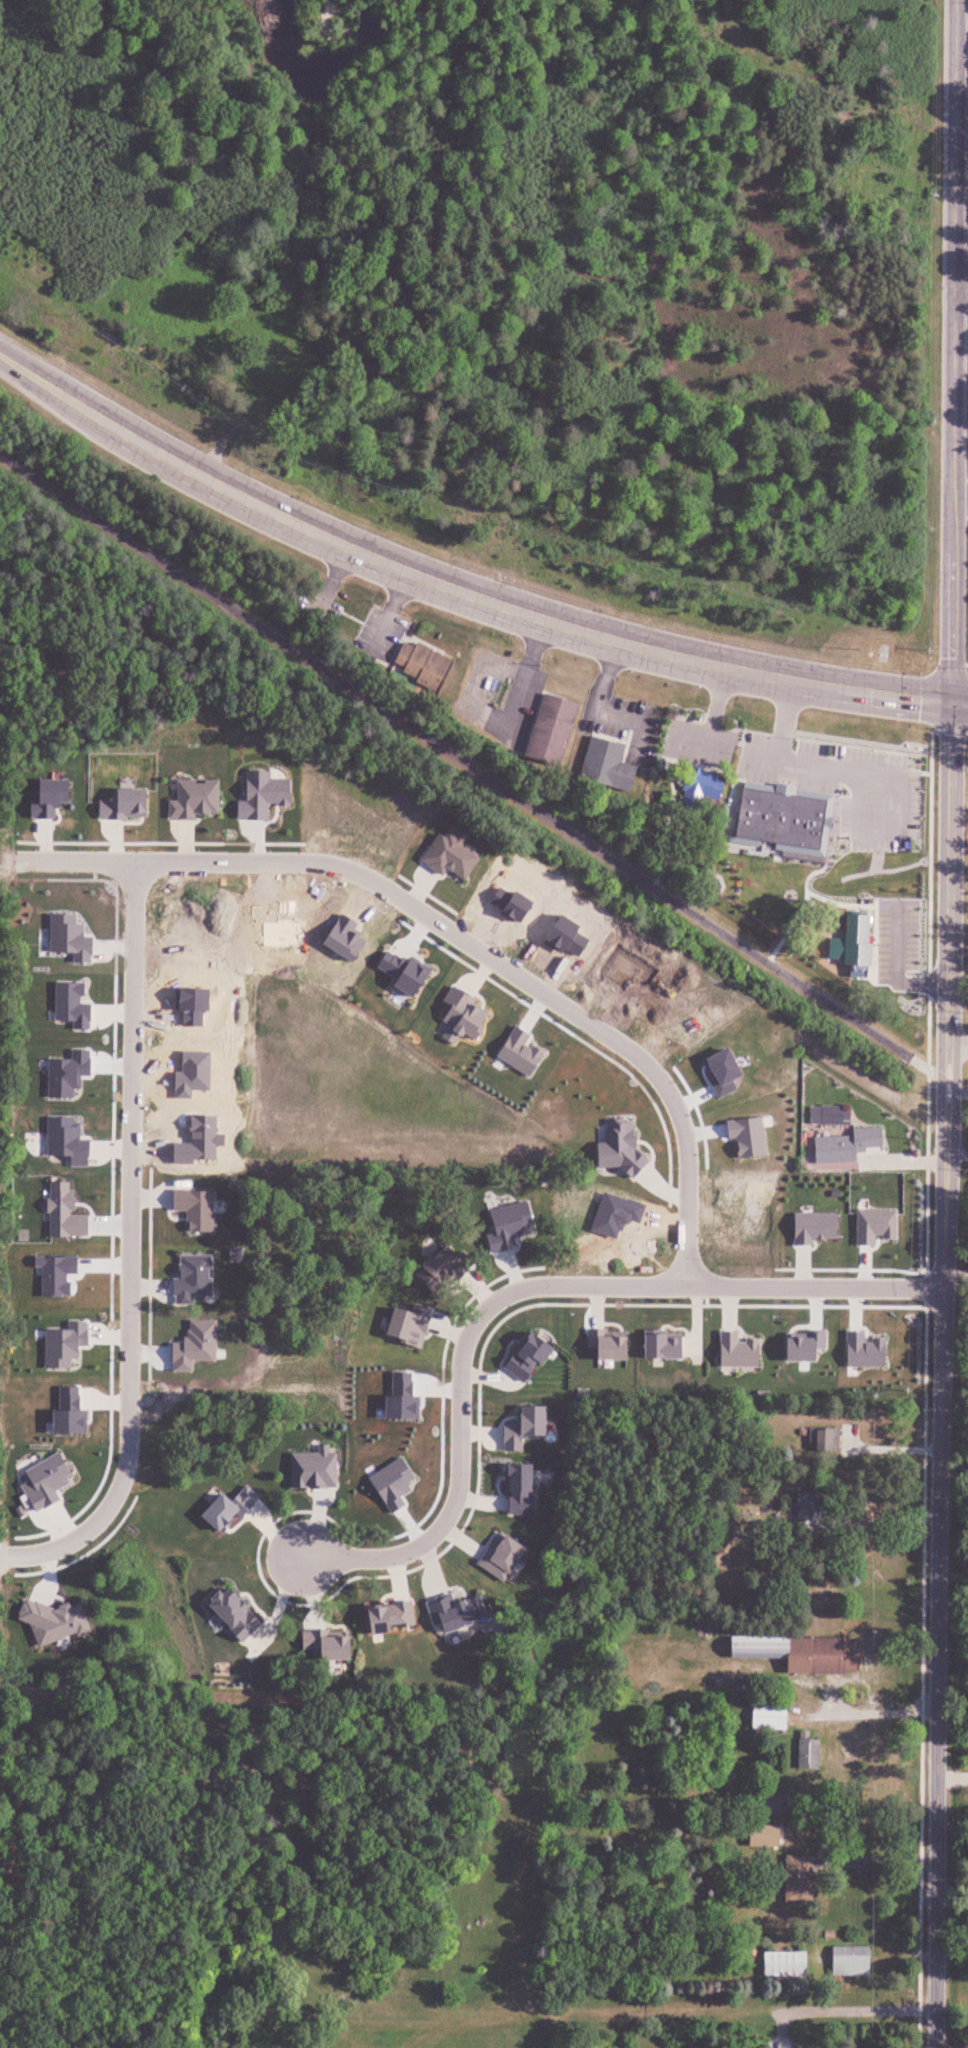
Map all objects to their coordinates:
road: (963, 286)
road: (962, 497)
road: (333, 573)
road: (455, 588)
road: (324, 603)
parking lot: (316, 608)
road: (388, 610)
parking lot: (380, 632)
road: (960, 664)
road: (967, 664)
building: (423, 665)
road: (608, 679)
road: (526, 682)
traffic signals: (953, 704)
road: (960, 704)
road: (717, 708)
road: (789, 723)
parking lot: (622, 724)
road: (638, 725)
building: (550, 729)
parking lot: (698, 743)
road: (697, 745)
building: (605, 764)
road: (483, 775)
road: (892, 777)
building: (697, 782)
parking lot: (846, 786)
road: (668, 815)
building: (779, 819)
building: (476, 844)
road: (799, 913)
road: (461, 936)
building: (479, 939)
building: (855, 942)
building: (538, 950)
road: (919, 980)
road: (944, 1023)
road: (956, 1045)
road: (865, 1081)
building: (755, 1104)
building: (833, 1149)
road: (955, 1152)
road: (133, 1246)
road: (699, 1287)
road: (65, 1384)
building: (822, 1439)
road: (887, 1448)
road: (461, 1451)
road: (880, 1516)
road: (363, 1557)
building: (797, 1653)
building: (768, 1716)
building: (806, 1751)
building: (762, 1837)
road: (878, 1855)
building: (795, 1879)
building: (848, 1961)
building: (783, 1964)
road: (848, 2009)
road: (956, 2046)

